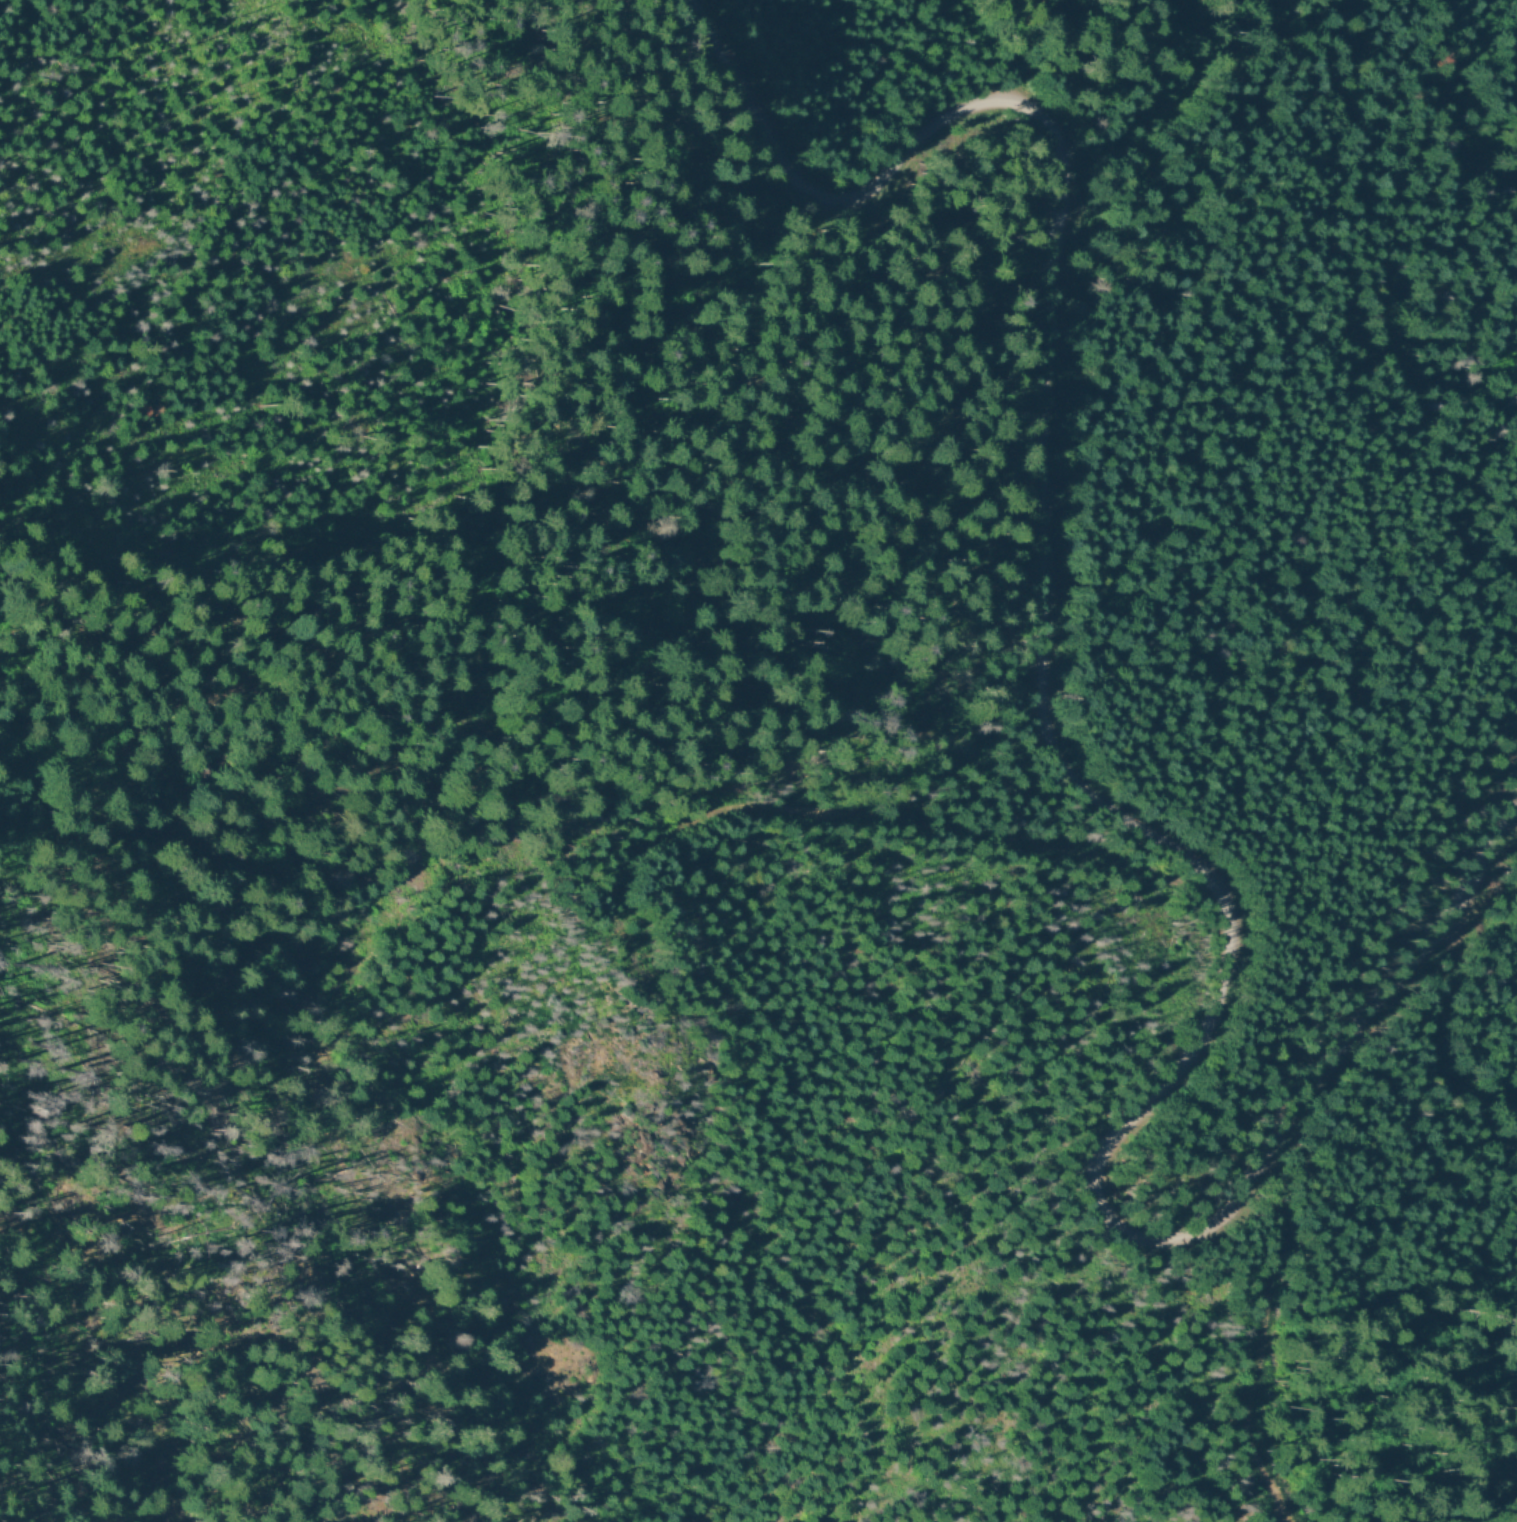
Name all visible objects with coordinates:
road: (1084, 775)
road: (1438, 1025)

